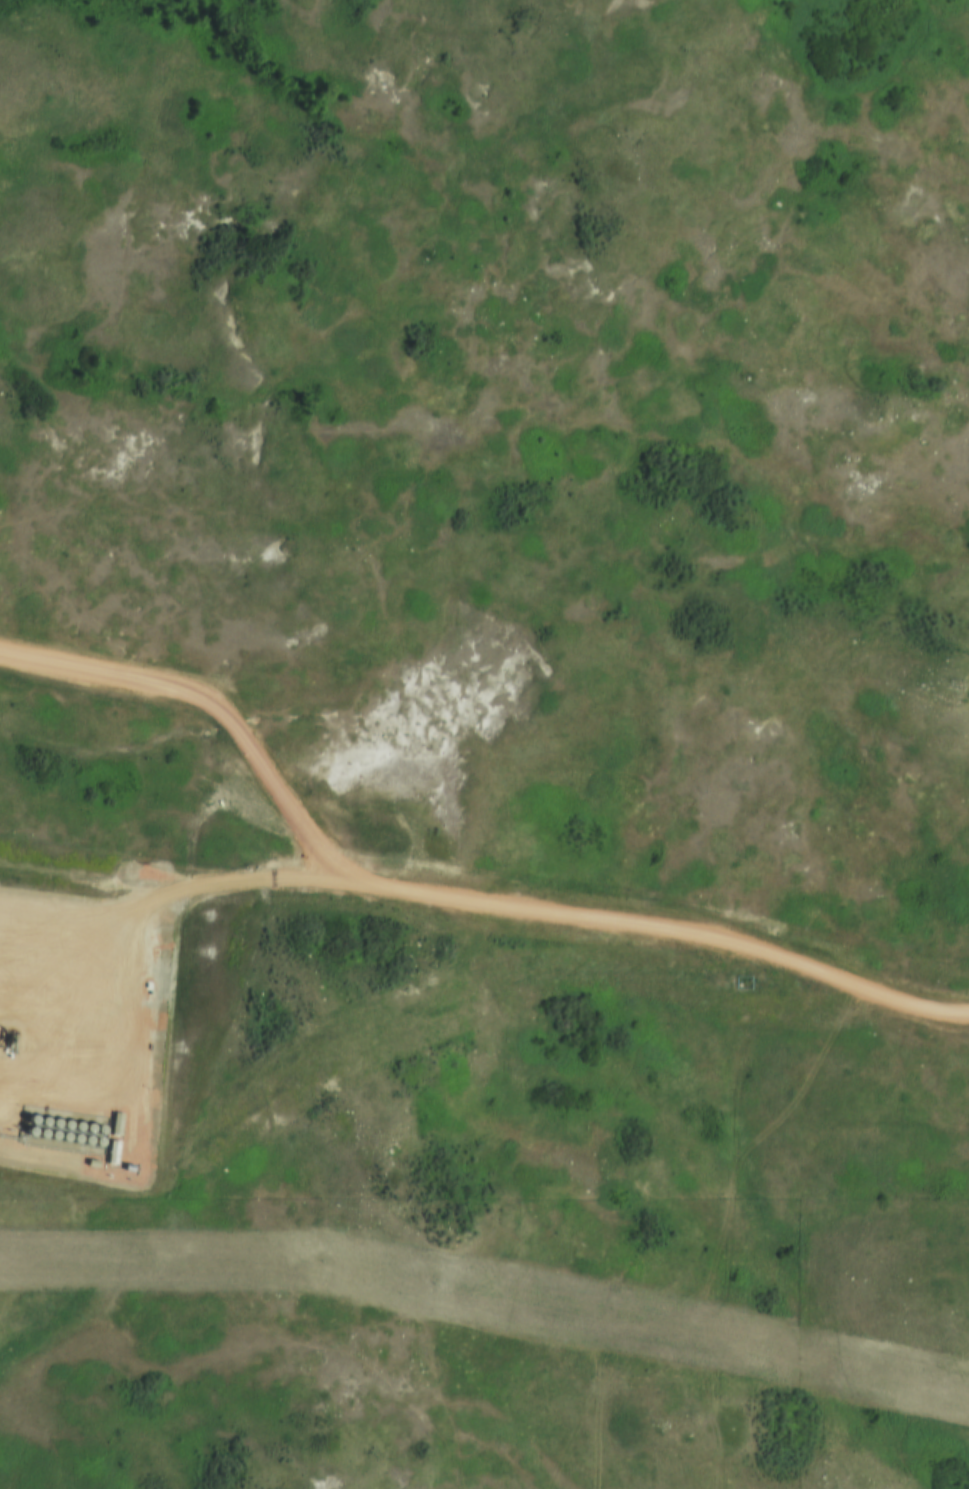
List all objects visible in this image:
petroleum well: (6, 1038)
building: (26, 1121)
storage tank: (26, 1121)
building: (114, 1121)
building: (38, 1124)
storage tank: (38, 1124)
building: (49, 1125)
storage tank: (49, 1125)
building: (60, 1127)
storage tank: (60, 1127)
building: (72, 1128)
storage tank: (72, 1128)
building: (83, 1130)
storage tank: (83, 1130)
building: (95, 1130)
storage tank: (95, 1130)
building: (24, 1134)
storage tank: (24, 1134)
building: (36, 1136)
storage tank: (36, 1136)
building: (48, 1137)
storage tank: (48, 1137)
building: (59, 1139)
storage tank: (59, 1139)
building: (70, 1140)
storage tank: (70, 1140)
building: (82, 1141)
storage tank: (82, 1141)
building: (93, 1143)
storage tank: (93, 1143)
building: (110, 1149)

